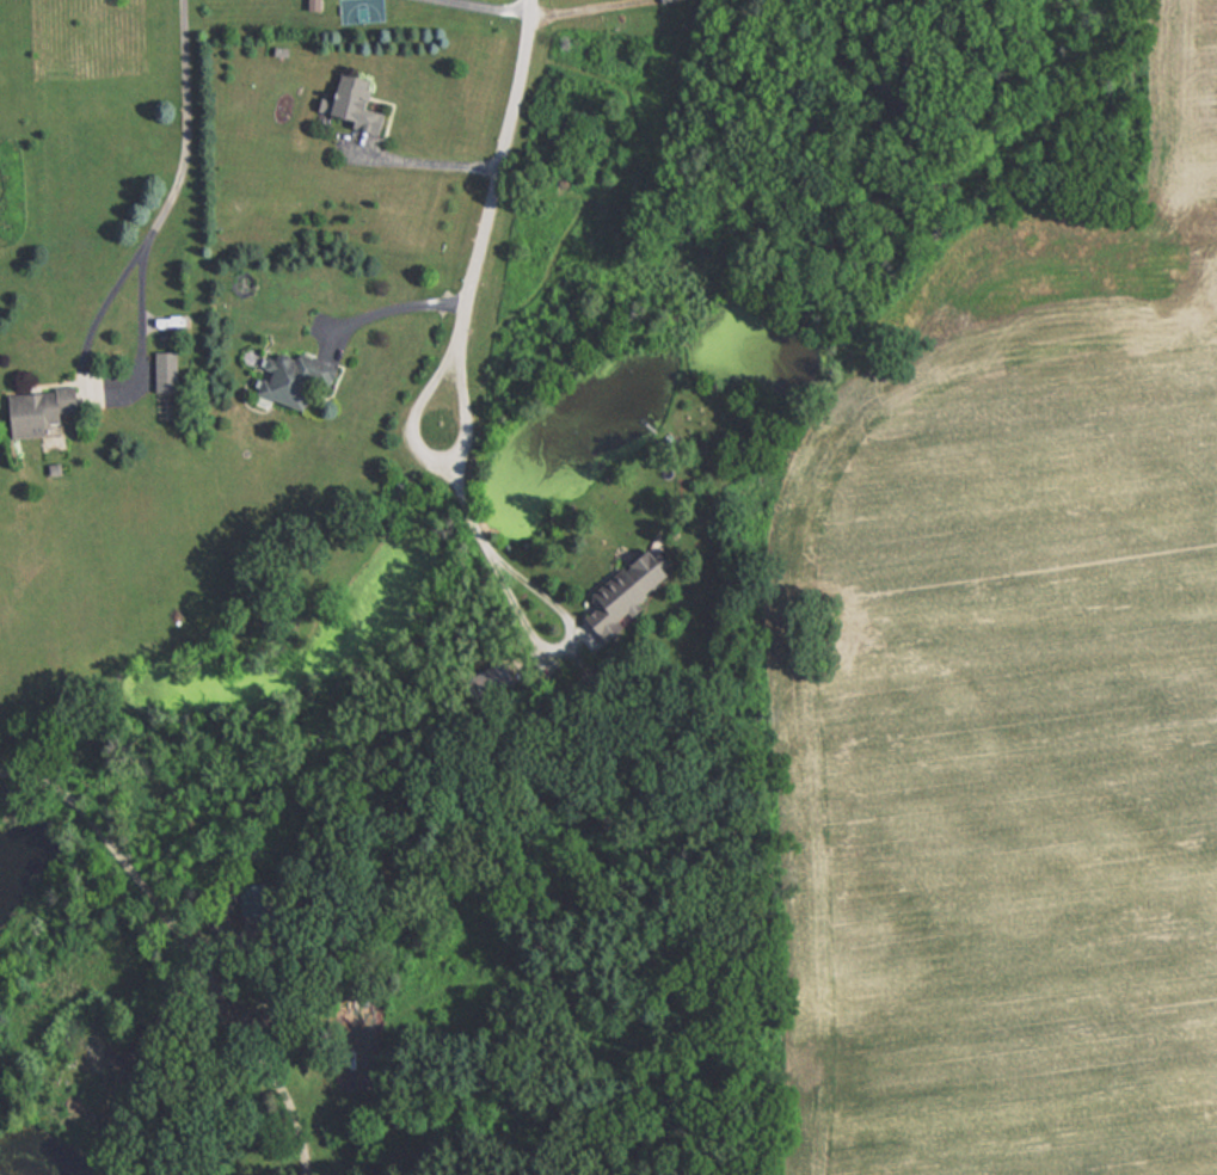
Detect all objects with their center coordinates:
road: (490, 7)
building: (356, 104)
road: (183, 128)
road: (429, 162)
road: (491, 205)
road: (392, 312)
building: (296, 379)
road: (109, 383)
building: (44, 411)
building: (632, 589)
road: (515, 603)
road: (188, 943)

